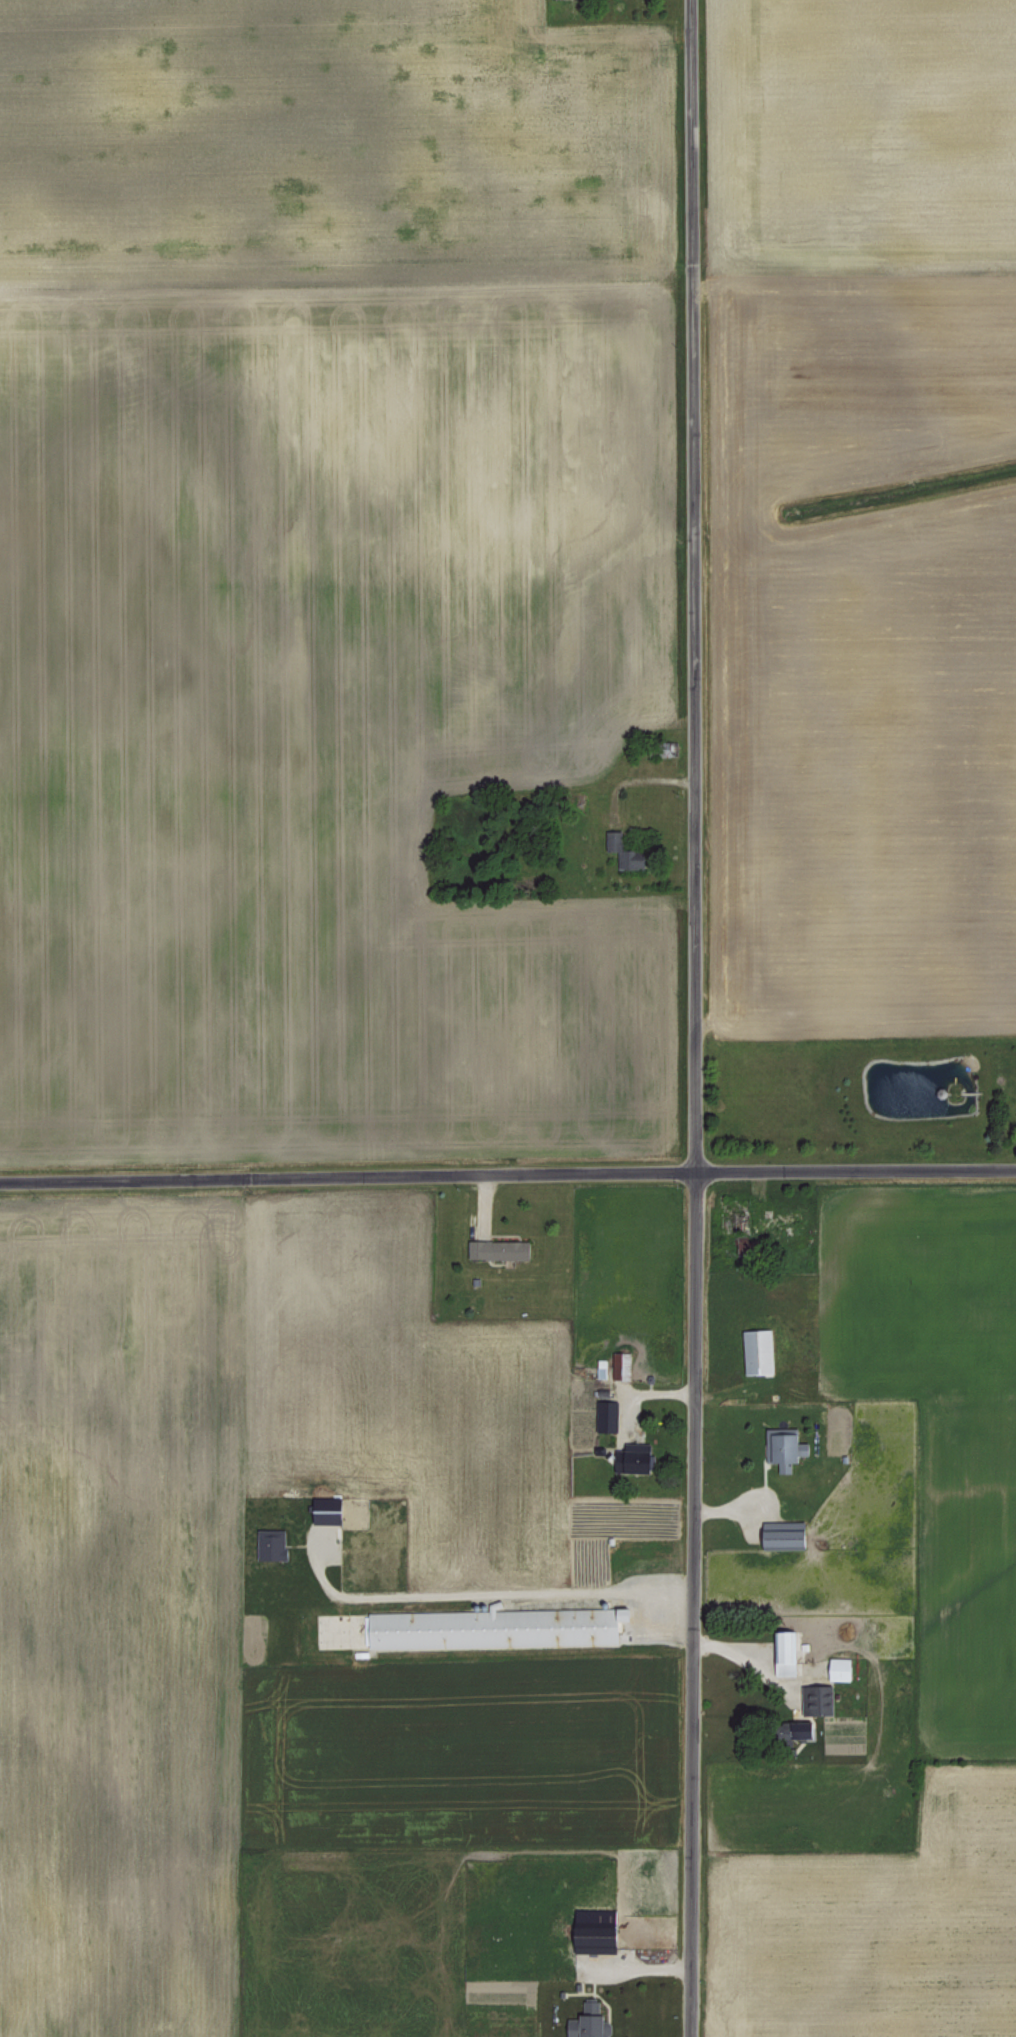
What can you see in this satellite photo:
building: (616, 850)
road: (692, 1018)
road: (507, 1175)
building: (501, 1248)
building: (761, 1350)
building: (623, 1364)
building: (603, 1367)
building: (607, 1416)
building: (786, 1448)
building: (638, 1456)
building: (330, 1510)
building: (786, 1535)
building: (274, 1543)
road: (481, 1590)
building: (494, 1627)
building: (788, 1651)
building: (843, 1668)
building: (808, 1732)
building: (602, 1942)
building: (590, 2021)

